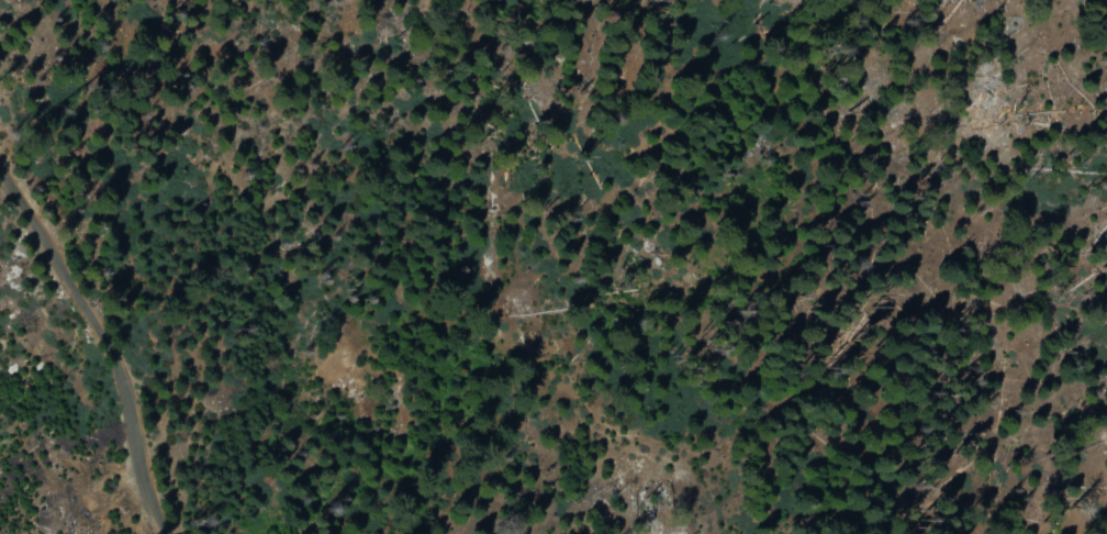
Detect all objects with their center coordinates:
road: (110, 338)

